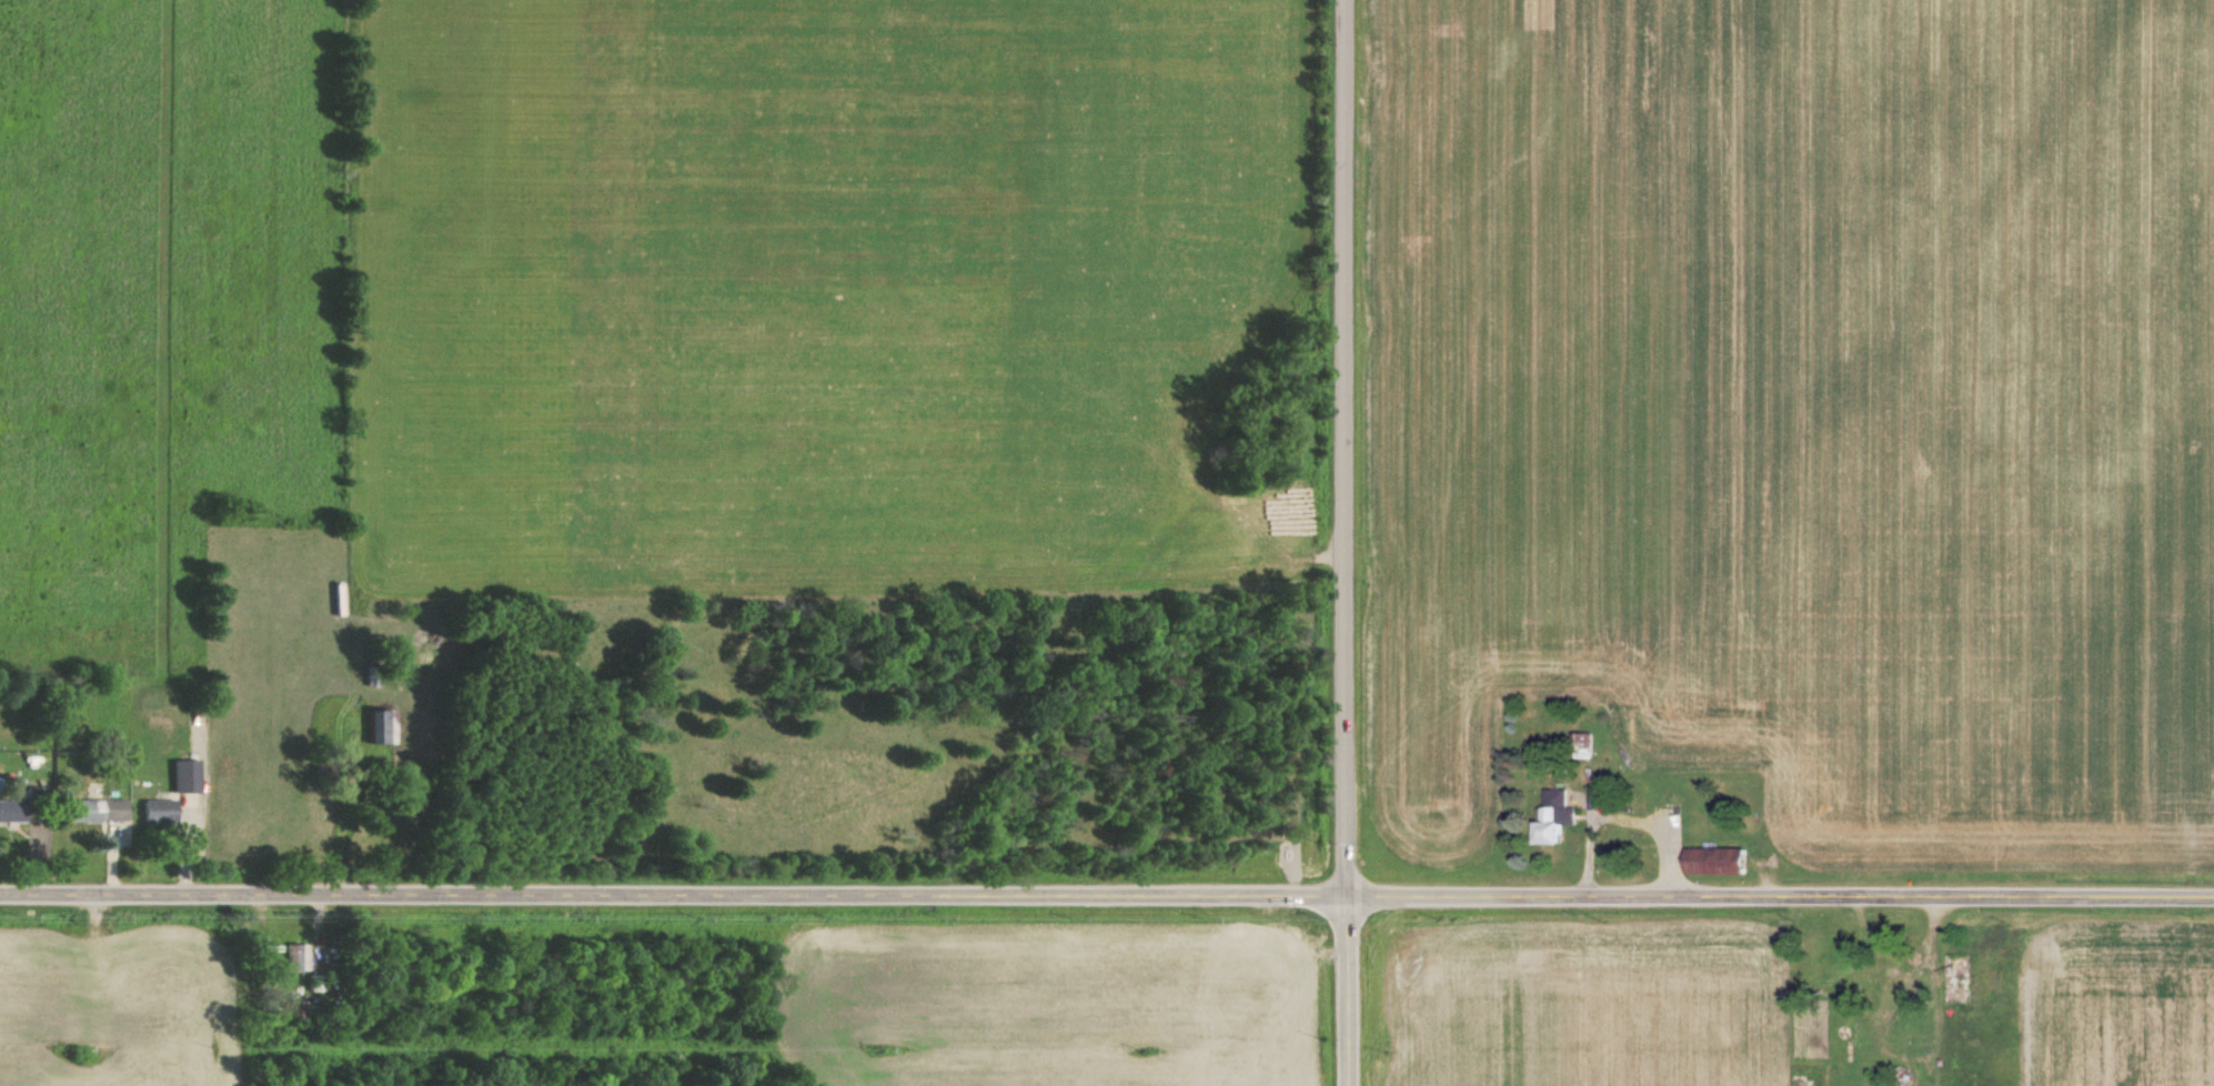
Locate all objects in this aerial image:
road: (1341, 543)
building: (375, 726)
building: (183, 775)
building: (10, 810)
building: (95, 810)
building: (155, 810)
building: (1556, 816)
building: (1717, 859)
road: (1106, 896)
building: (294, 956)

